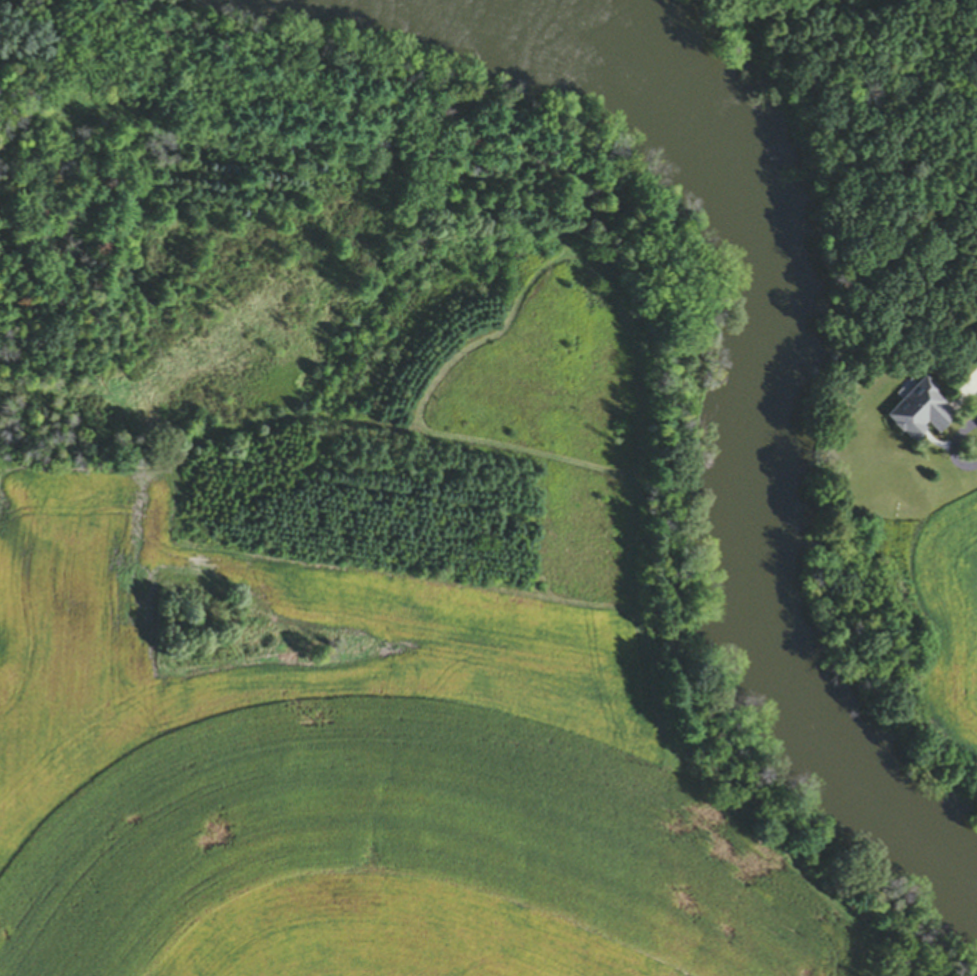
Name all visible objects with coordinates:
building: (922, 413)
river: (760, 448)

